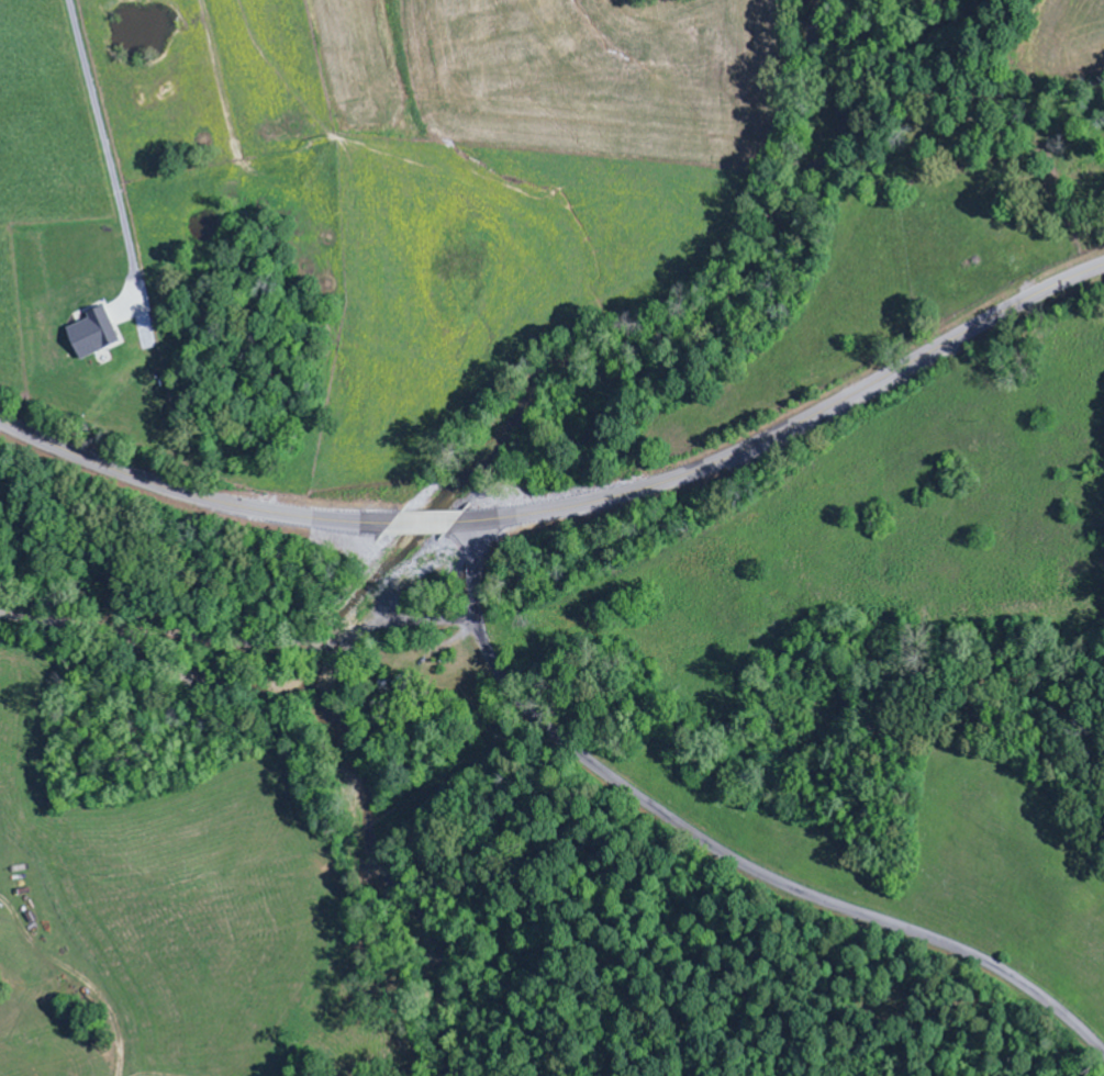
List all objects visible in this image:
building: (96, 333)
road: (793, 424)
road: (223, 502)
road: (470, 574)
road: (414, 626)
road: (175, 636)
road: (768, 871)

